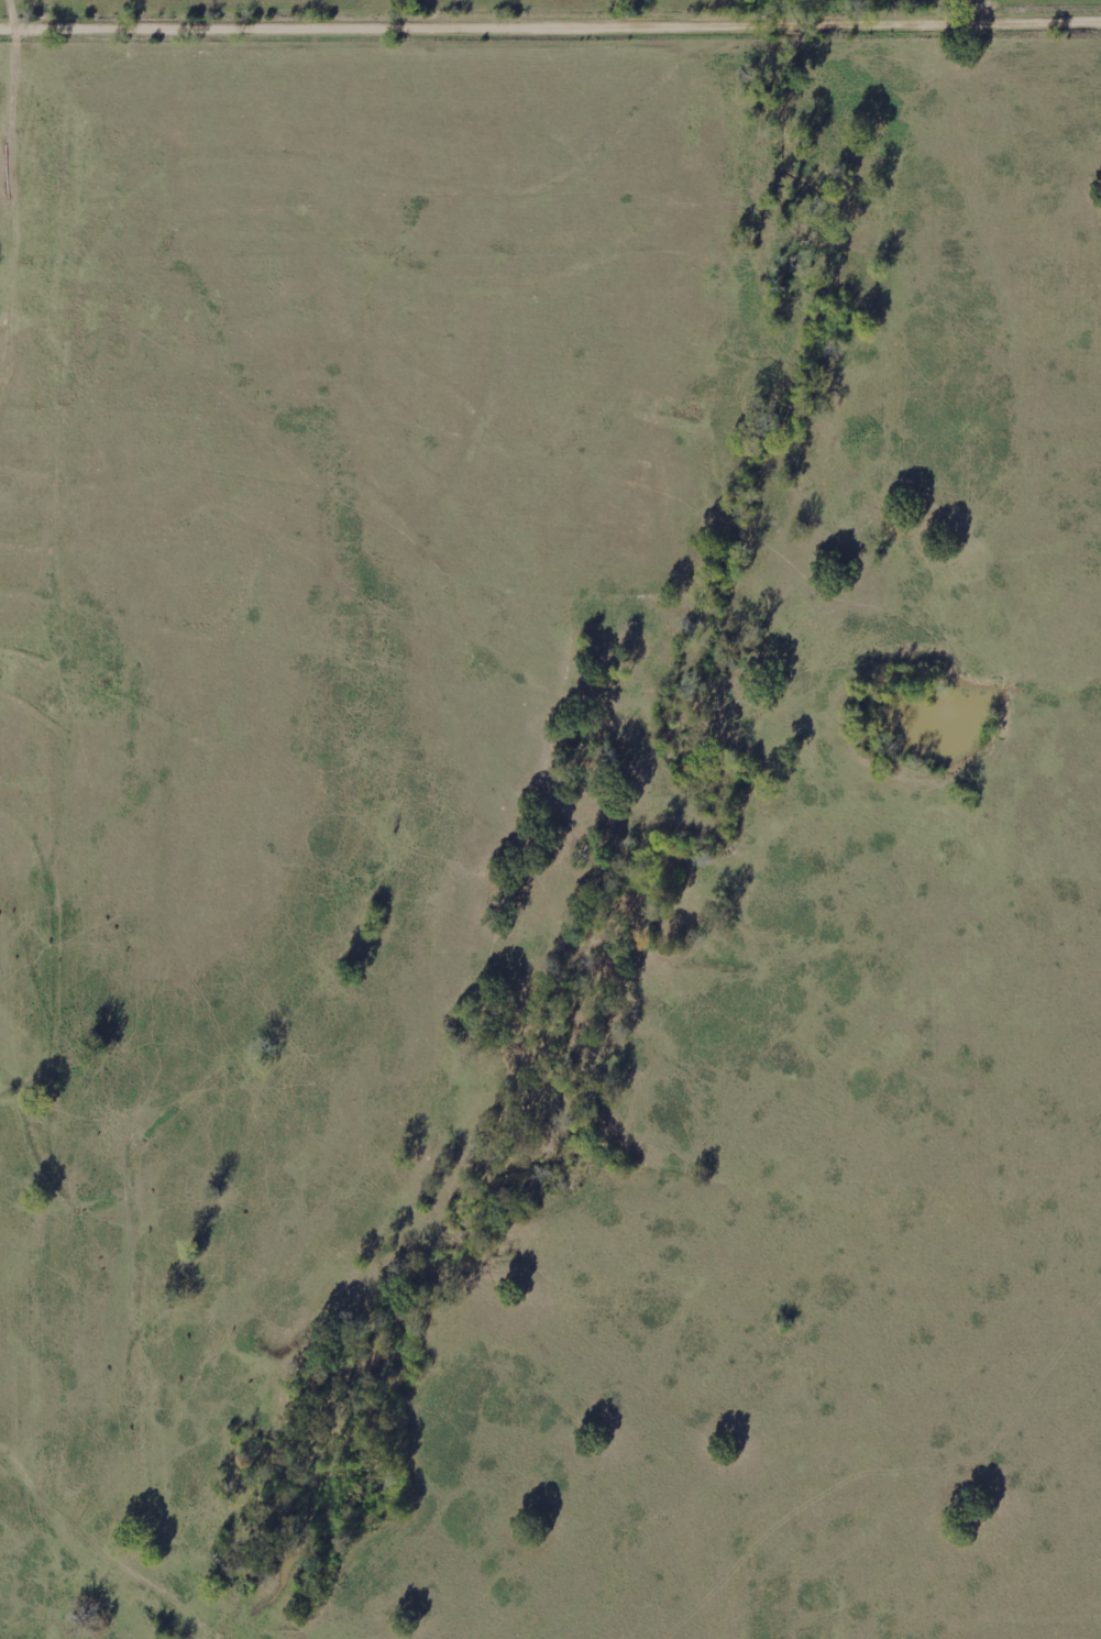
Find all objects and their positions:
road: (551, 34)

